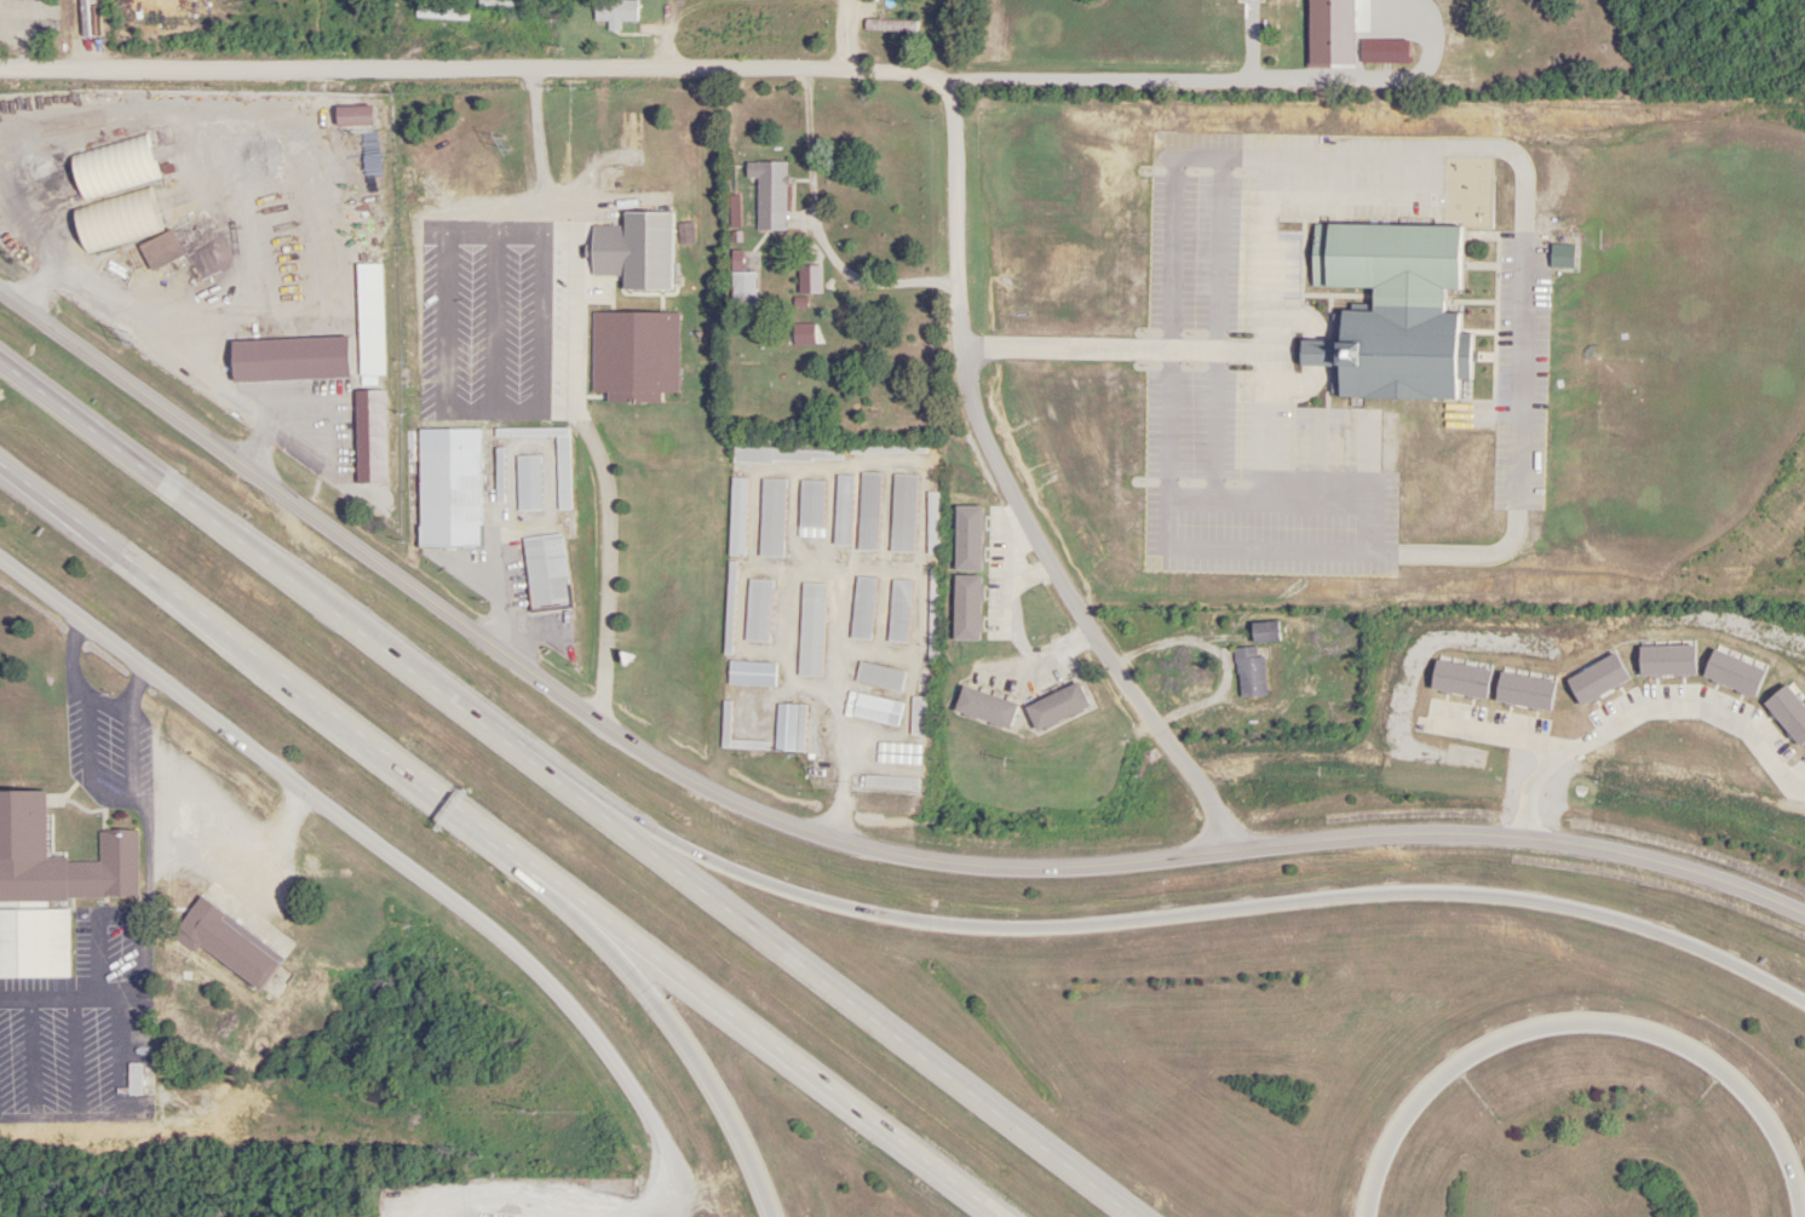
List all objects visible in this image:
building: (615, 12)
road: (666, 36)
road: (846, 36)
road: (81, 38)
building: (1384, 51)
road: (422, 74)
road: (896, 75)
road: (1183, 81)
building: (352, 115)
building: (628, 131)
building: (113, 167)
building: (770, 196)
road: (815, 233)
building: (156, 243)
building: (633, 251)
building: (1391, 312)
building: (369, 320)
building: (246, 352)
building: (634, 355)
road: (584, 400)
building: (369, 437)
building: (886, 449)
building: (786, 455)
building: (562, 473)
building: (528, 483)
building: (448, 488)
road: (1010, 494)
building: (810, 509)
building: (841, 511)
building: (868, 512)
building: (902, 513)
building: (736, 517)
building: (771, 518)
building: (932, 523)
building: (545, 572)
road: (298, 587)
building: (862, 609)
road: (1309, 609)
building: (757, 610)
building: (729, 612)
building: (898, 612)
building: (933, 616)
building: (810, 630)
building: (1264, 632)
road: (1012, 667)
building: (1249, 672)
building: (751, 674)
building: (879, 677)
road: (284, 687)
road: (573, 704)
building: (1056, 707)
building: (984, 708)
building: (873, 710)
building: (918, 716)
road: (849, 717)
building: (788, 728)
building: (897, 754)
building: (891, 783)
road: (1527, 844)
road: (264, 846)
road: (396, 853)
building: (50, 886)
road: (1198, 917)
building: (228, 945)
road: (864, 1011)
road: (1573, 1024)
road: (688, 1049)
road: (784, 1057)
building: (133, 1080)

